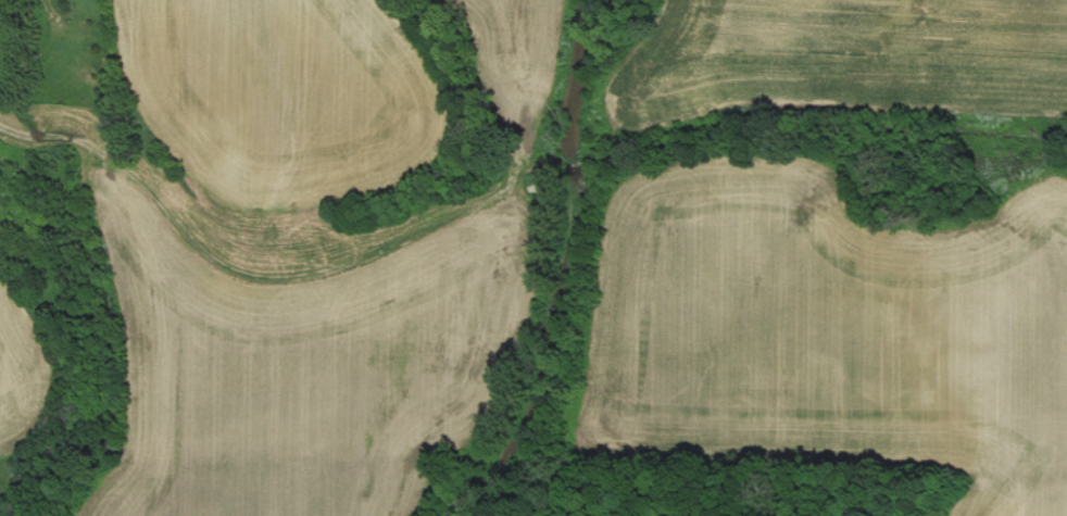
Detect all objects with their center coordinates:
road: (524, 190)

